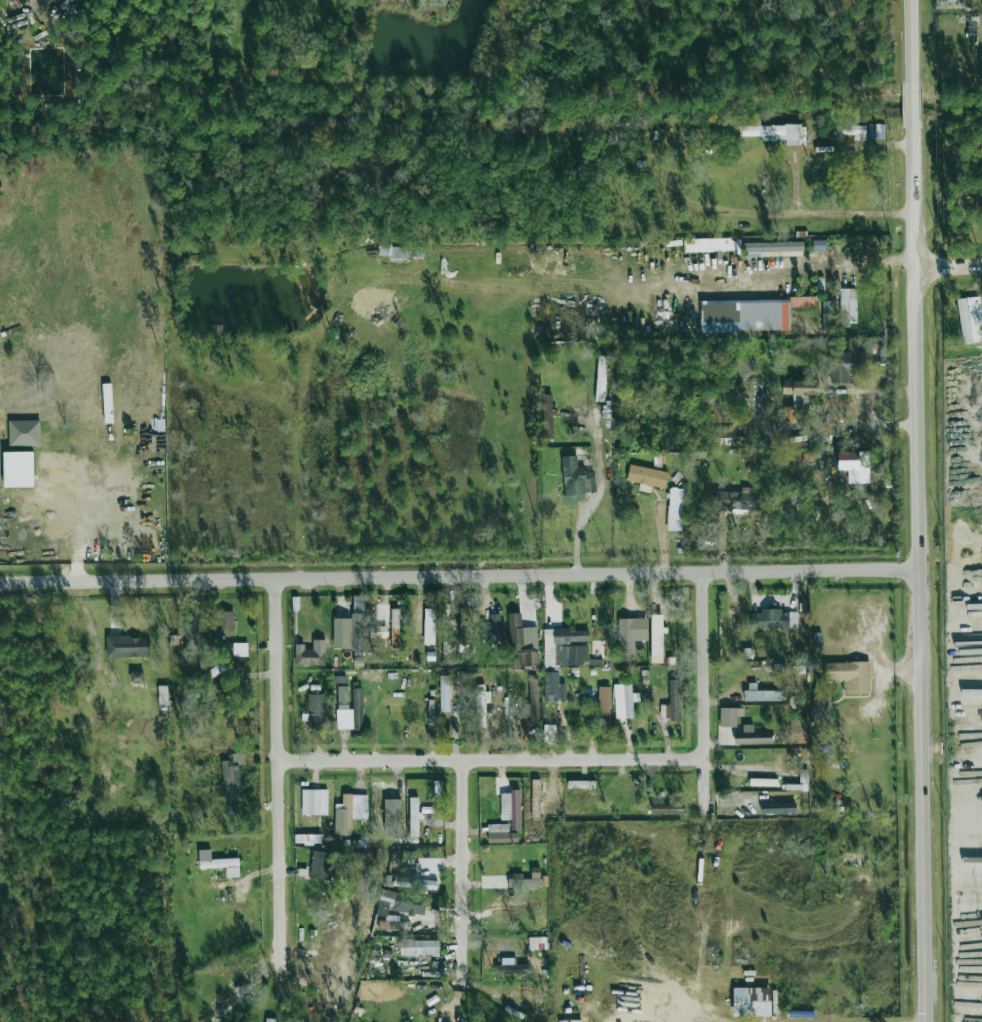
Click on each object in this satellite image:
building: (848, 130)
building: (875, 131)
building: (772, 132)
road: (827, 212)
building: (707, 245)
building: (818, 246)
building: (774, 247)
road: (837, 262)
road: (948, 267)
road: (721, 295)
building: (845, 306)
building: (748, 314)
building: (970, 320)
building: (845, 366)
building: (800, 387)
building: (17, 398)
road: (872, 405)
building: (788, 414)
building: (547, 417)
building: (23, 433)
building: (799, 459)
building: (18, 469)
building: (646, 476)
building: (575, 479)
building: (737, 500)
building: (675, 509)
road: (917, 510)
road: (579, 524)
road: (459, 573)
building: (773, 620)
building: (225, 621)
building: (428, 626)
building: (394, 628)
building: (495, 628)
building: (630, 633)
building: (463, 634)
building: (656, 638)
building: (523, 643)
building: (127, 647)
building: (565, 647)
building: (239, 650)
building: (310, 654)
road: (703, 665)
building: (849, 675)
building: (459, 682)
building: (550, 686)
building: (444, 693)
building: (762, 695)
building: (532, 696)
building: (624, 700)
building: (603, 701)
building: (672, 703)
building: (480, 704)
building: (316, 711)
building: (350, 711)
building: (727, 717)
building: (549, 733)
building: (751, 736)
road: (491, 757)
road: (284, 768)
building: (763, 782)
building: (578, 784)
building: (231, 786)
building: (314, 802)
building: (511, 808)
building: (777, 808)
building: (666, 809)
building: (349, 813)
building: (413, 818)
building: (500, 834)
building: (319, 865)
building: (222, 866)
road: (466, 870)
building: (414, 883)
road: (705, 890)
building: (403, 903)
building: (418, 947)
building: (511, 969)
building: (751, 1002)
building: (267, 1020)

